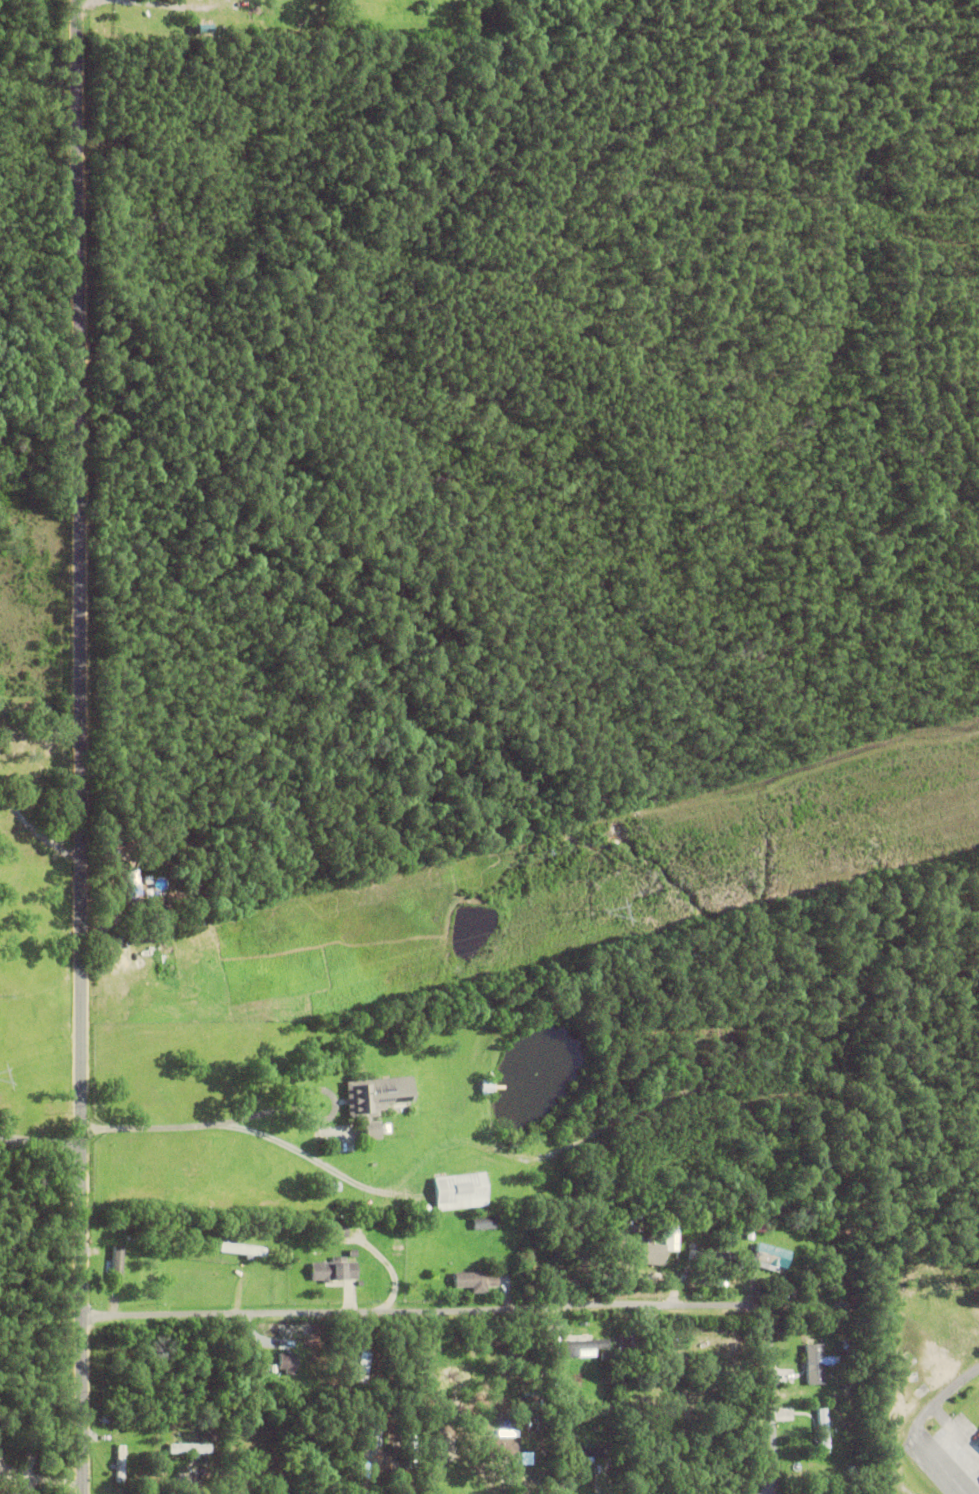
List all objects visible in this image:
road: (83, 746)
road: (37, 838)
building: (130, 885)
power tower: (602, 912)
building: (142, 932)
building: (485, 1085)
building: (374, 1097)
road: (201, 1124)
building: (386, 1126)
road: (41, 1140)
building: (335, 1186)
building: (459, 1189)
building: (552, 1218)
building: (483, 1222)
building: (757, 1223)
building: (120, 1226)
building: (386, 1226)
building: (334, 1229)
building: (749, 1234)
building: (136, 1235)
building: (243, 1247)
building: (646, 1252)
building: (574, 1253)
building: (710, 1253)
building: (768, 1256)
building: (113, 1262)
building: (335, 1269)
building: (474, 1279)
road: (515, 1309)
building: (585, 1342)
building: (630, 1348)
building: (850, 1348)
building: (604, 1354)
building: (288, 1359)
building: (643, 1361)
building: (815, 1362)
building: (363, 1364)
building: (717, 1370)
building: (605, 1384)
building: (565, 1404)
building: (214, 1420)
building: (541, 1421)
building: (567, 1422)
road: (918, 1424)
building: (823, 1428)
building: (367, 1434)
building: (977, 1440)
building: (410, 1445)
building: (502, 1447)
building: (190, 1448)
building: (582, 1450)
building: (258, 1463)
building: (120, 1464)
building: (854, 1472)

